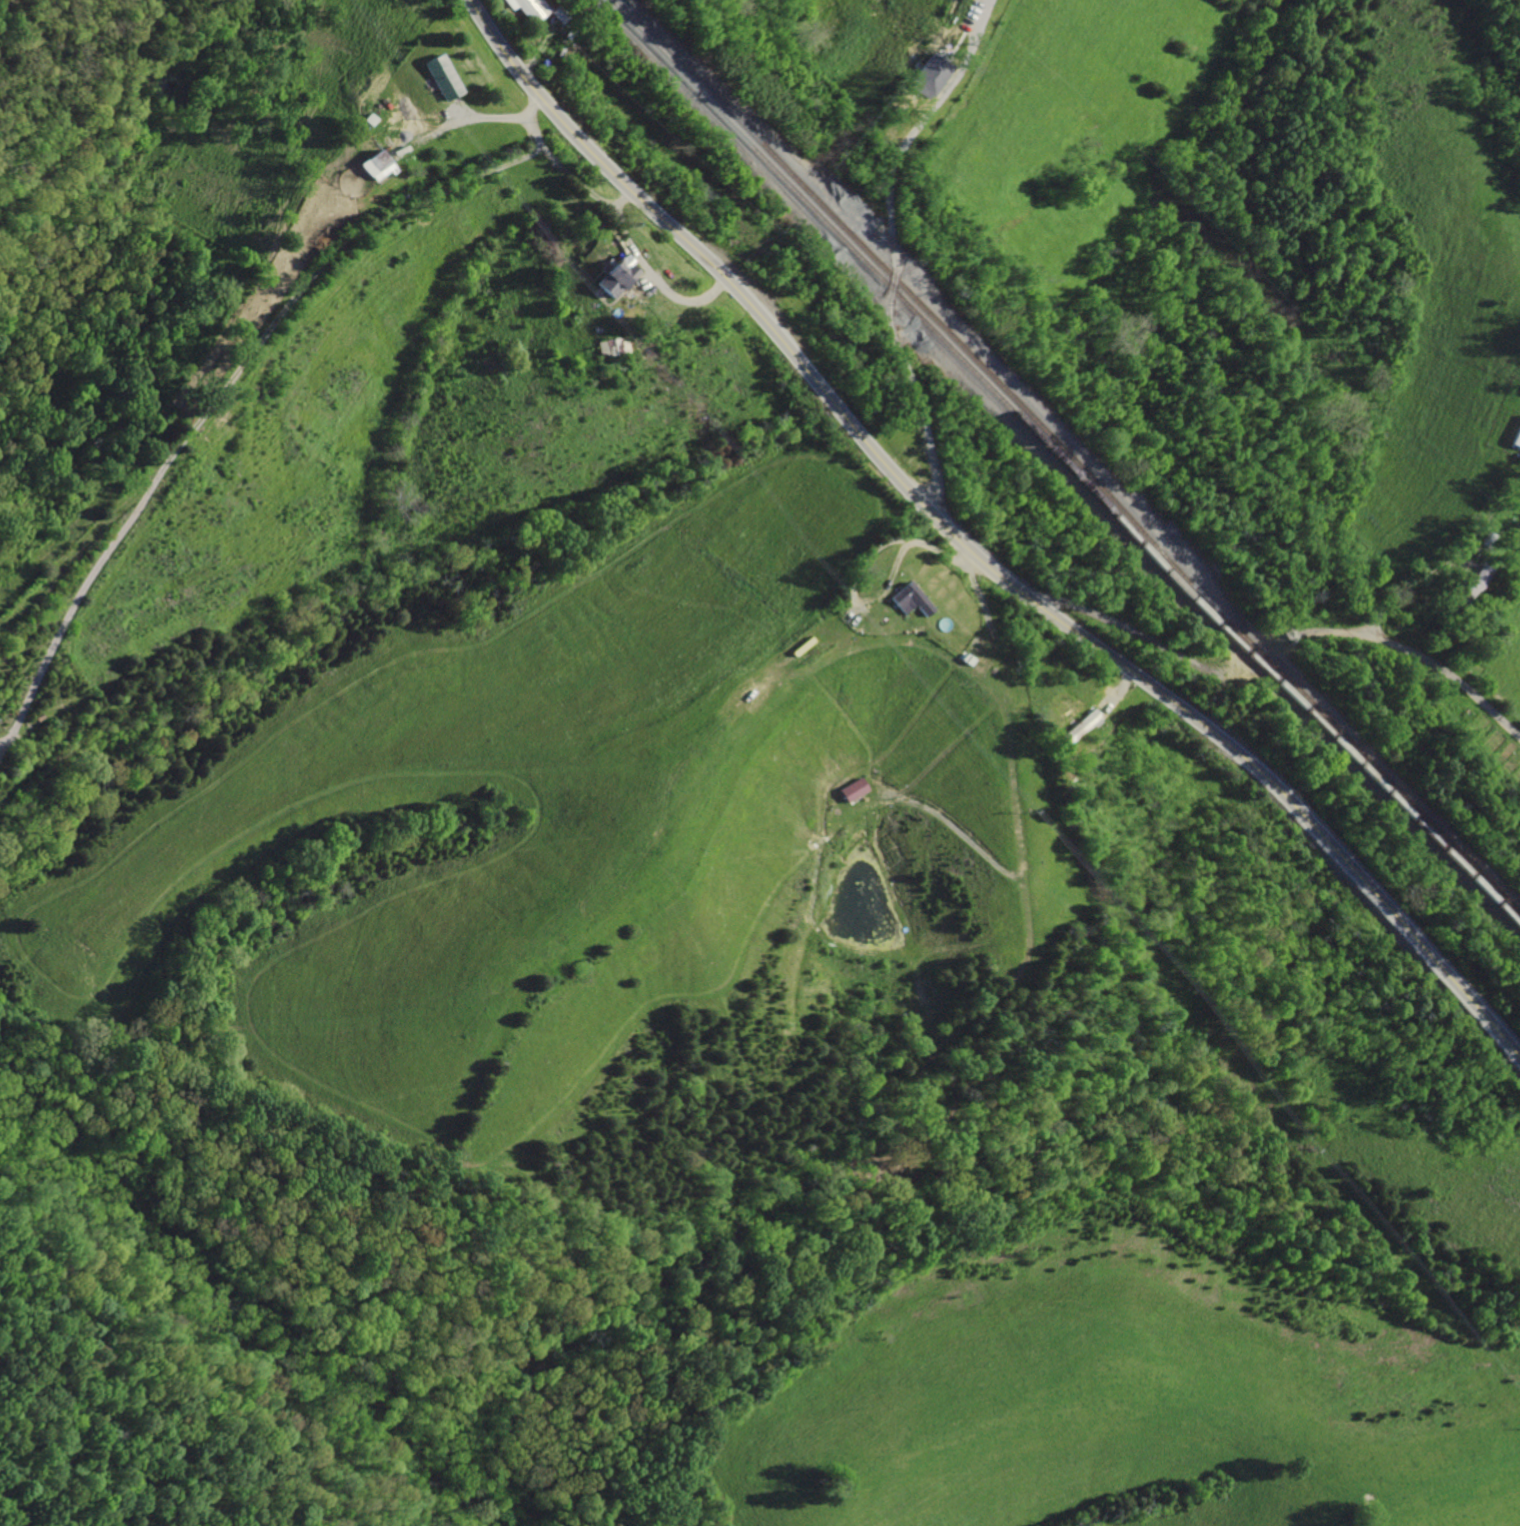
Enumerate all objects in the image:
building: (523, 8)
building: (439, 77)
building: (924, 78)
road: (486, 117)
building: (373, 166)
road: (889, 261)
building: (605, 268)
road: (647, 273)
road: (233, 370)
building: (1516, 435)
railway: (1071, 457)
railway: (1065, 464)
road: (971, 550)
building: (1466, 586)
building: (907, 600)
road: (1127, 630)
road: (1415, 656)
road: (1256, 657)
building: (1078, 726)
building: (850, 789)

